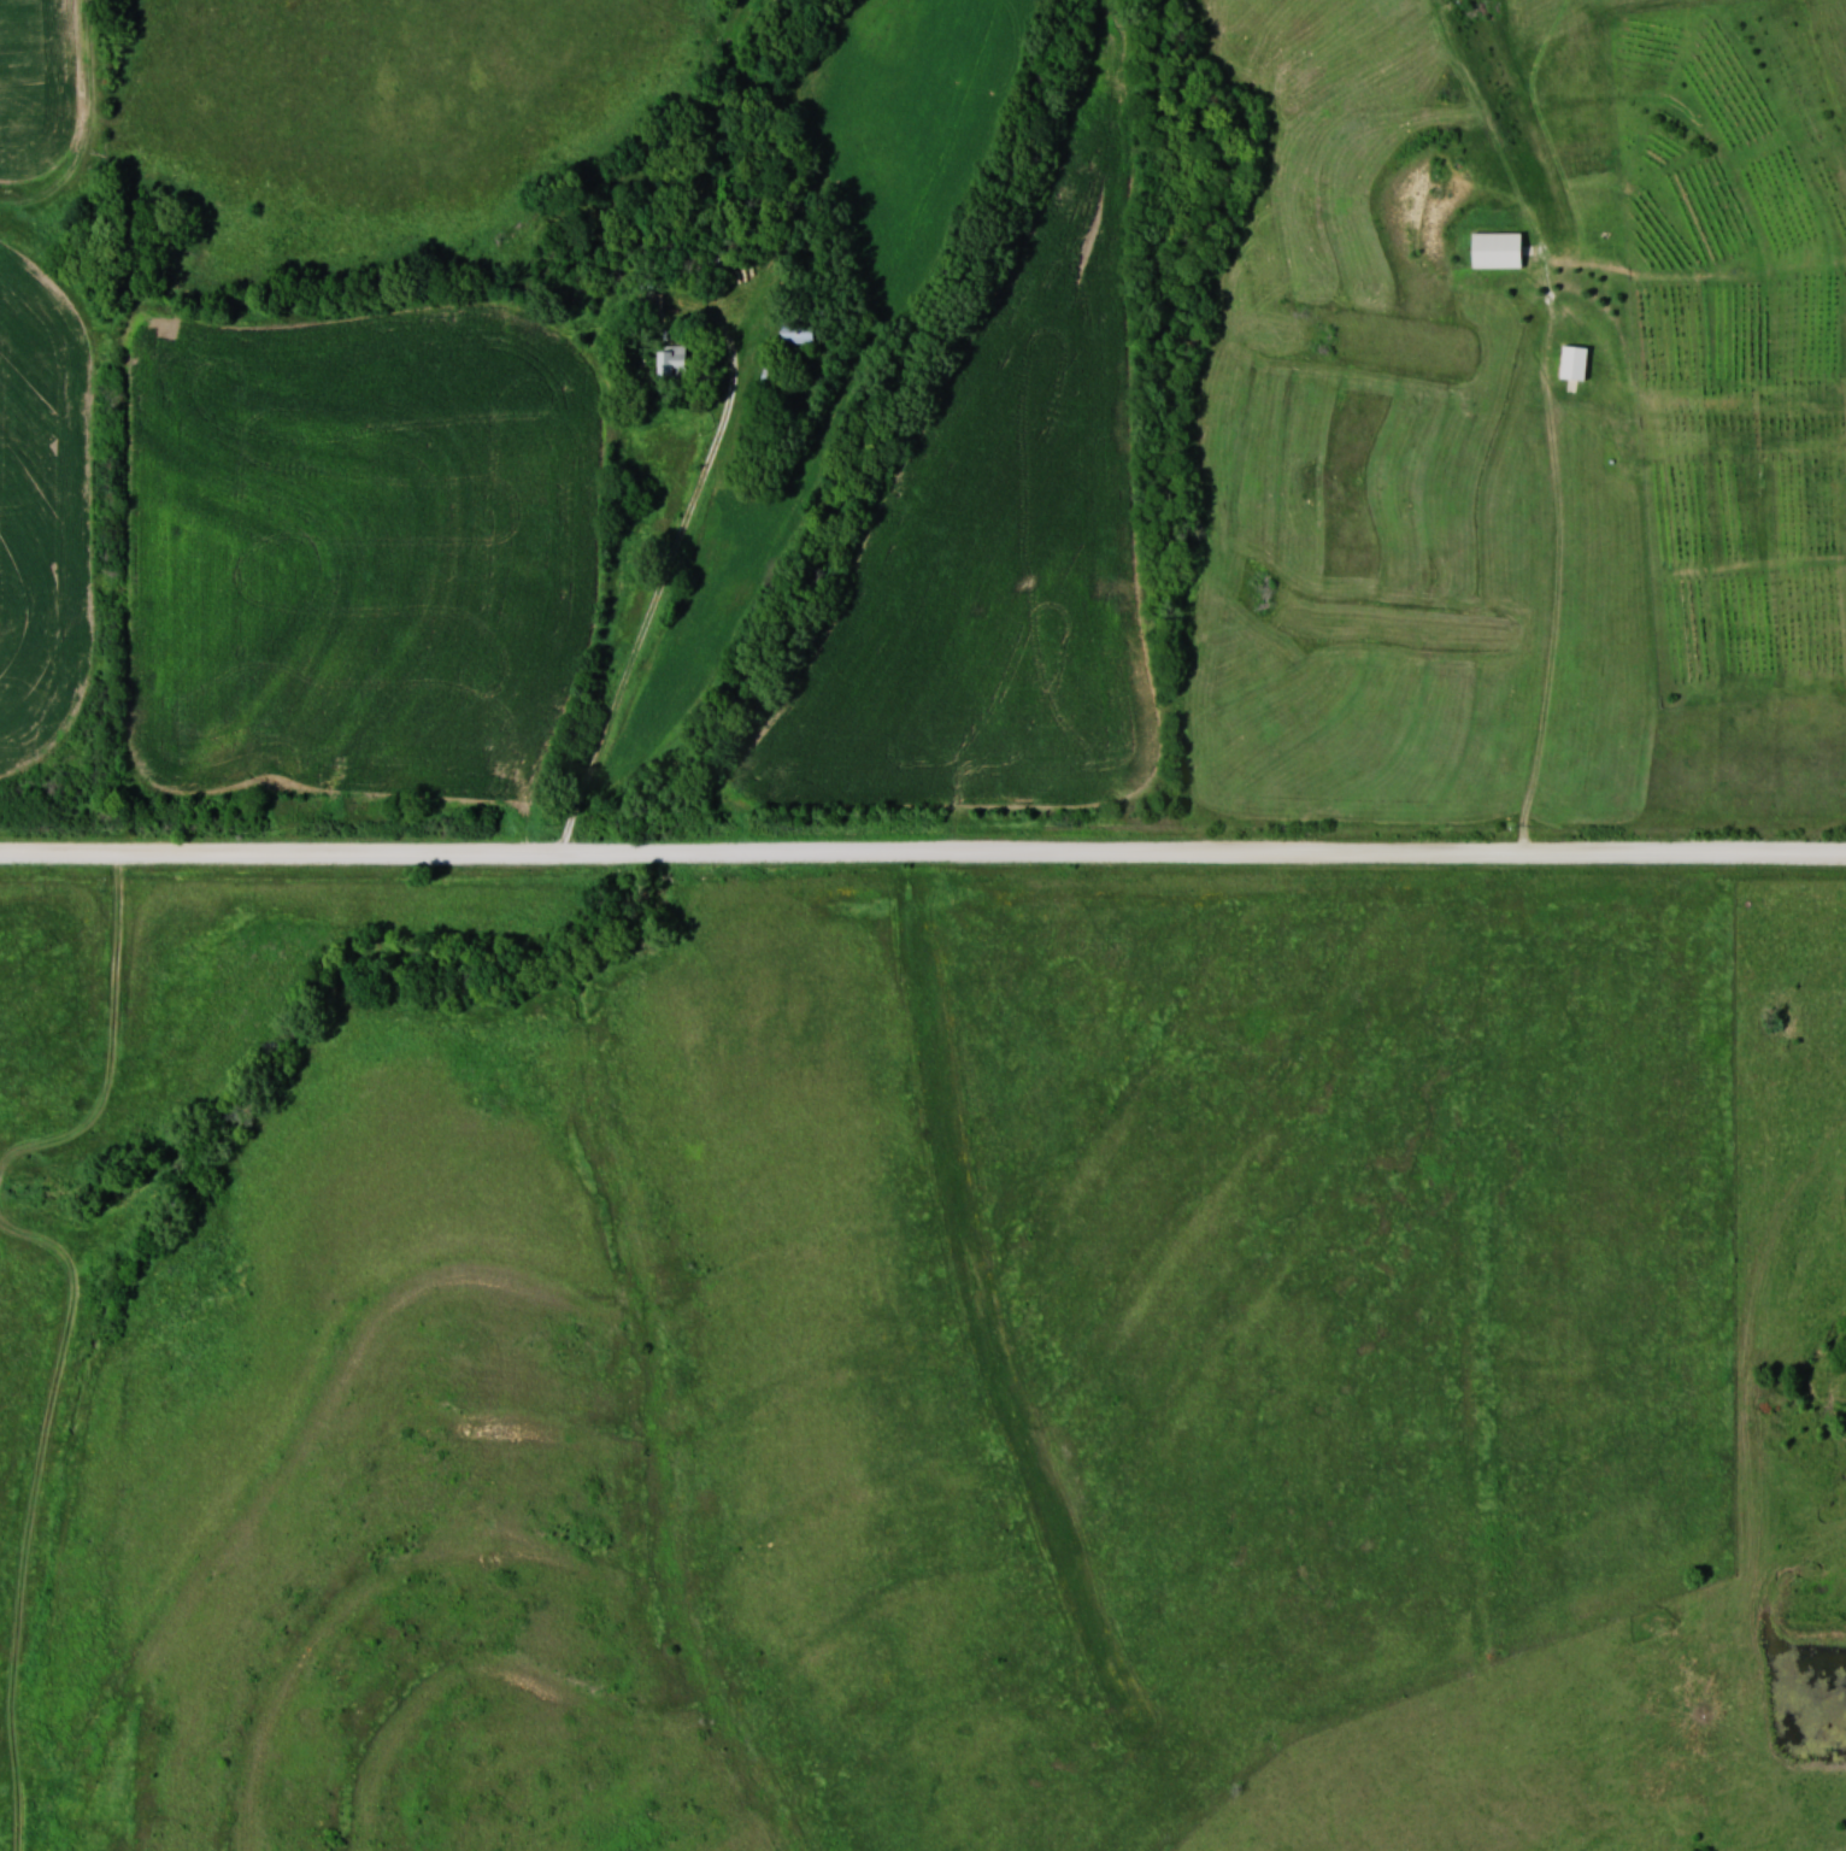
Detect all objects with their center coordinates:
building: (1499, 249)
building: (651, 304)
building: (803, 329)
building: (674, 355)
building: (1576, 362)
building: (769, 378)
road: (664, 584)
road: (923, 853)

